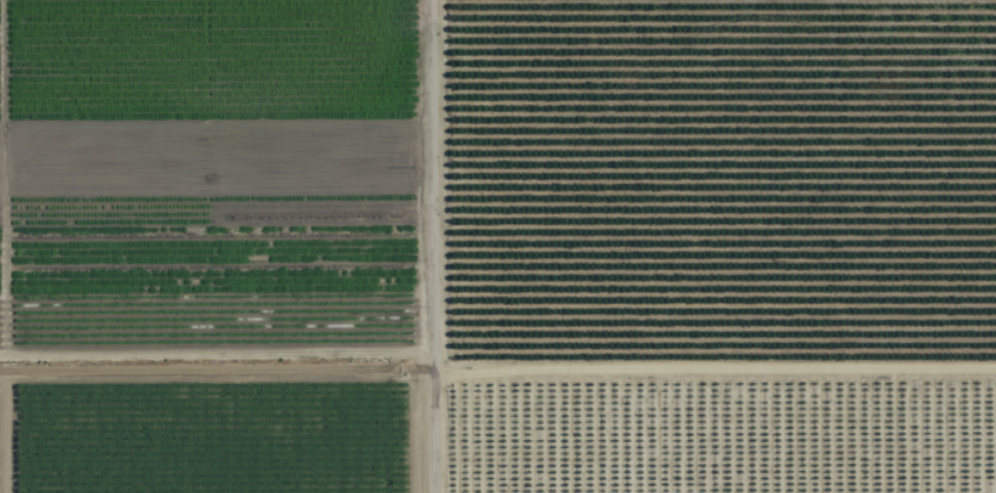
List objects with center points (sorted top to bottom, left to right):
road: (432, 246)
crop: (498, 246)
road: (497, 374)

